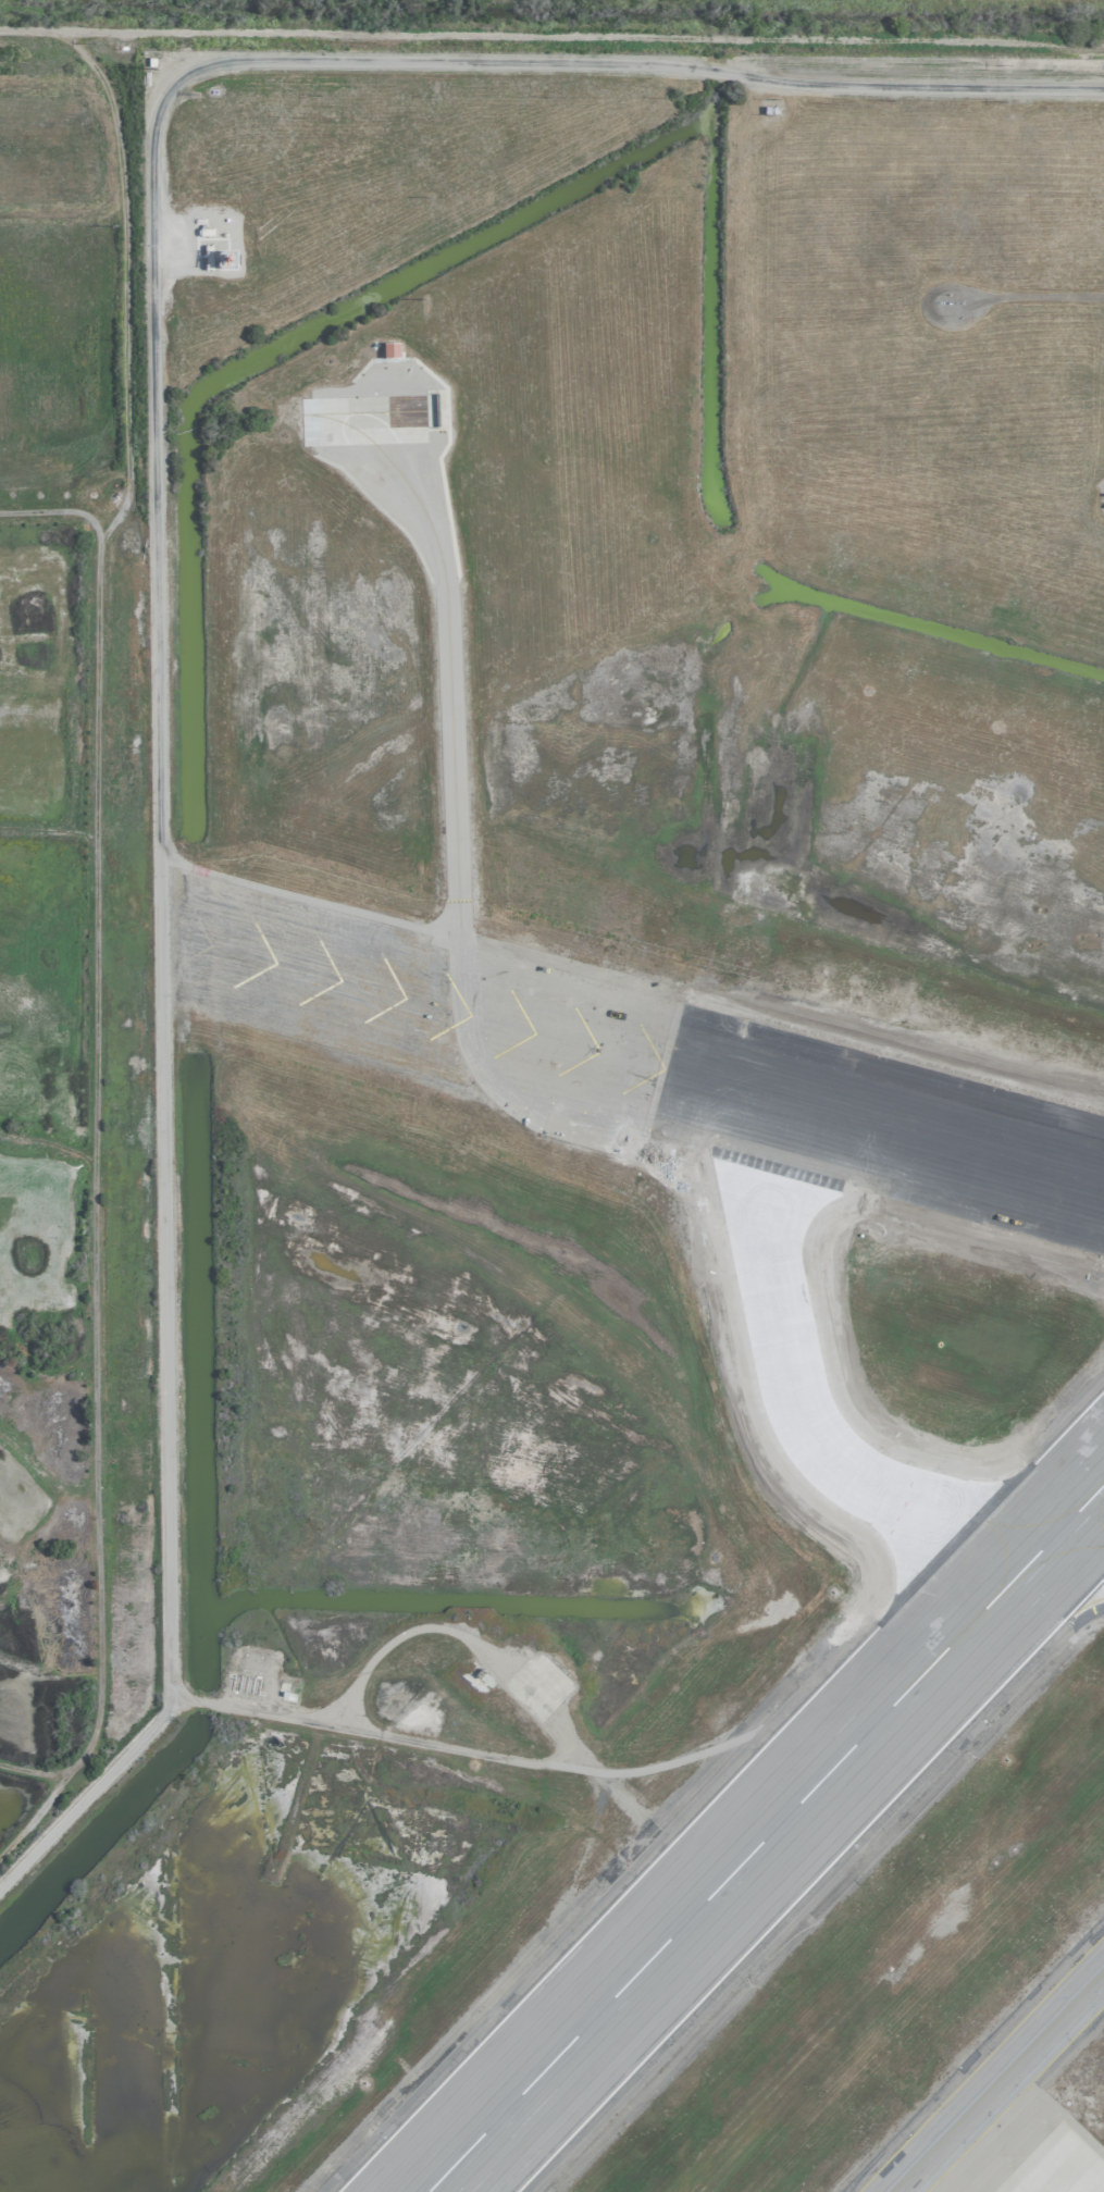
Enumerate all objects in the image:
park: (574, 25)
road: (551, 36)
building: (389, 349)
road: (156, 544)
park: (73, 939)
road: (929, 1049)
airport runway: (658, 1069)
airport: (610, 1143)
airport taxiway: (805, 1426)
road: (840, 1644)
road: (383, 1648)
airport runway: (768, 1841)
airport taxiway: (998, 2082)
airport apron: (1059, 2167)

